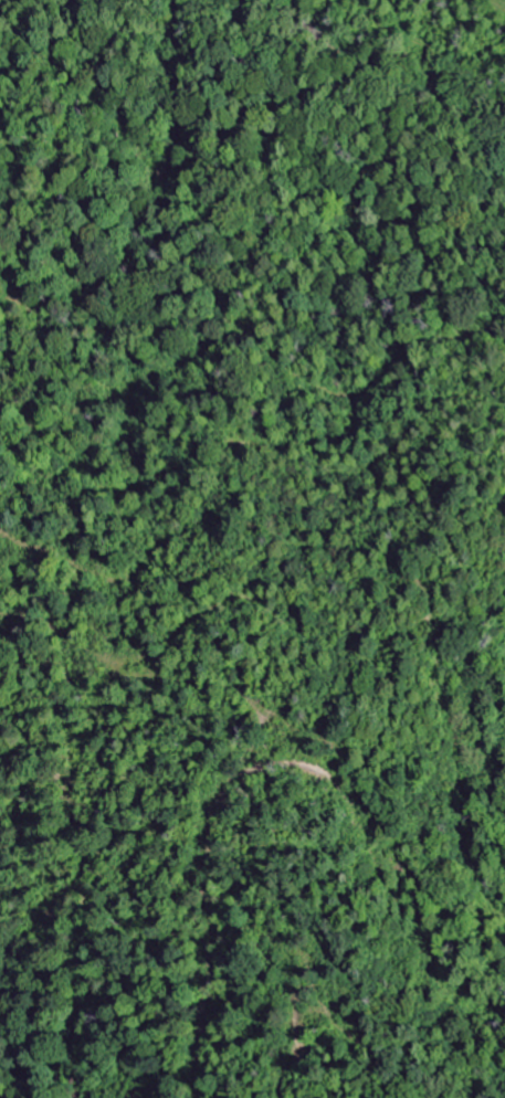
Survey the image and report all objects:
road: (497, 2)

